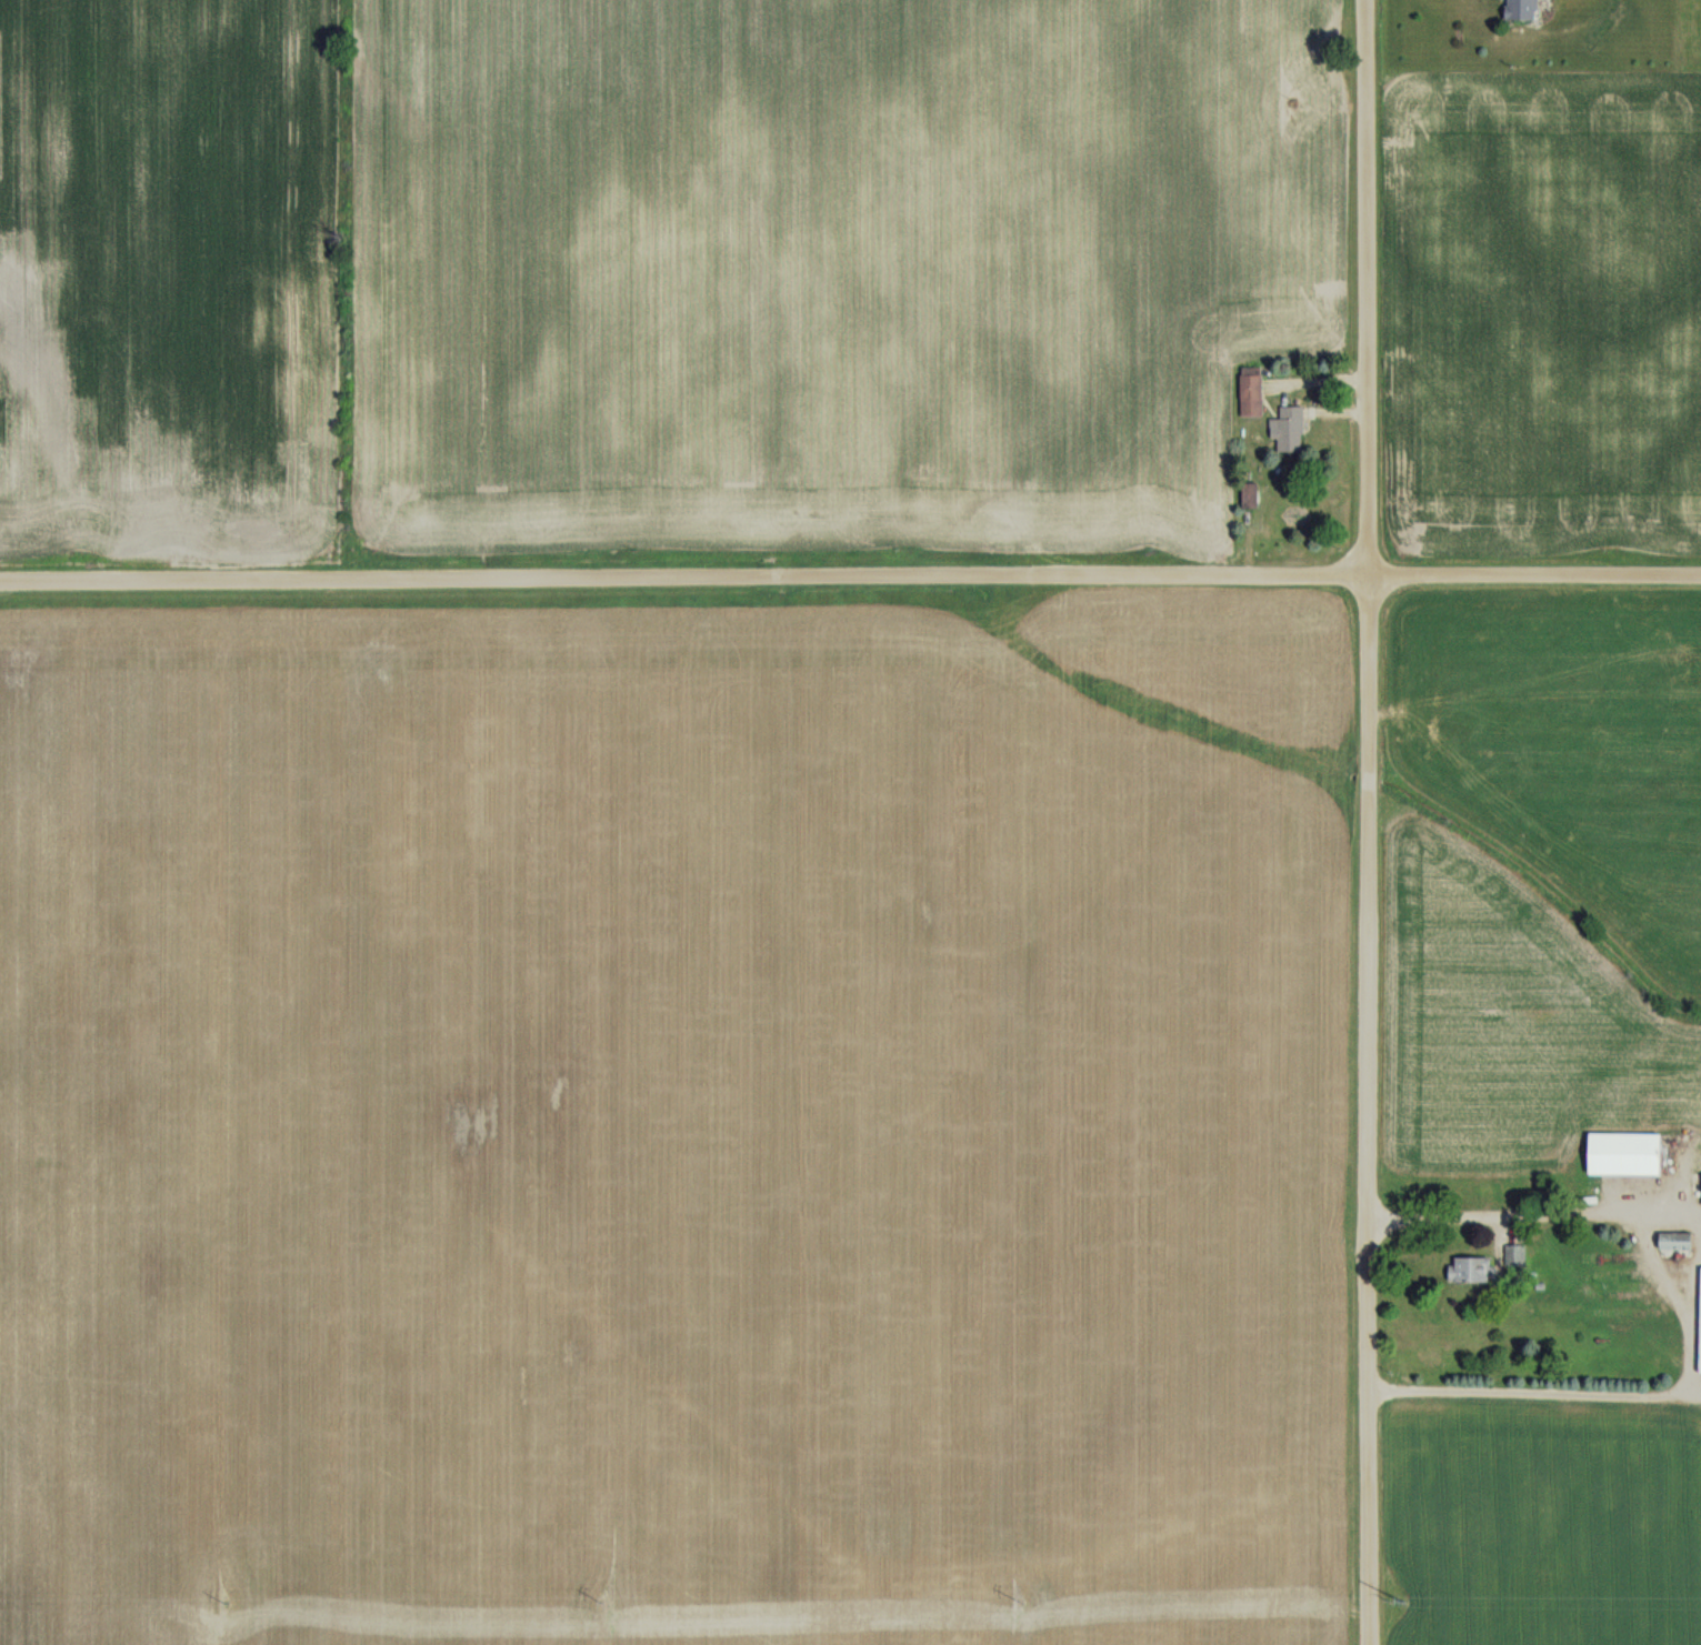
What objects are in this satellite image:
building: (1525, 10)
building: (1253, 392)
building: (1291, 429)
building: (1252, 494)
road: (850, 576)
road: (1371, 822)
building: (1629, 1152)
building: (1680, 1240)
building: (1517, 1254)
building: (1473, 1267)
road: (1694, 1322)
road: (1697, 1390)

